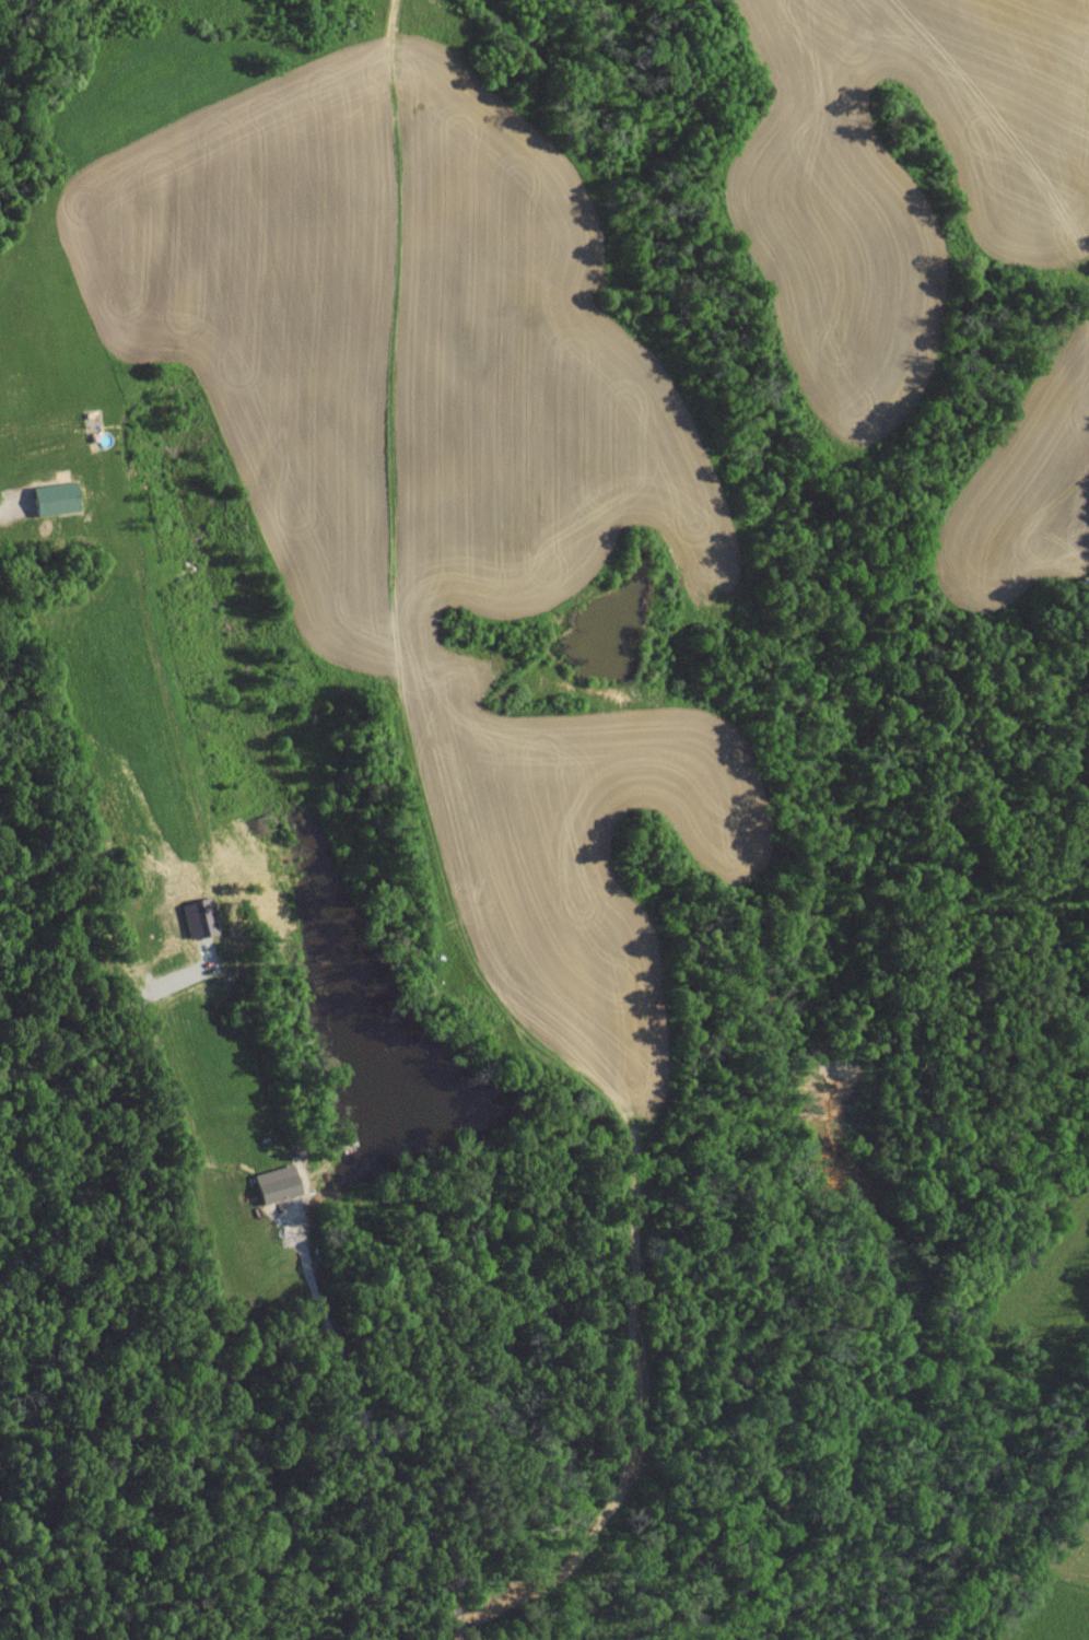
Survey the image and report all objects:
building: (59, 496)
road: (3, 508)
road: (106, 1034)
building: (280, 1182)

